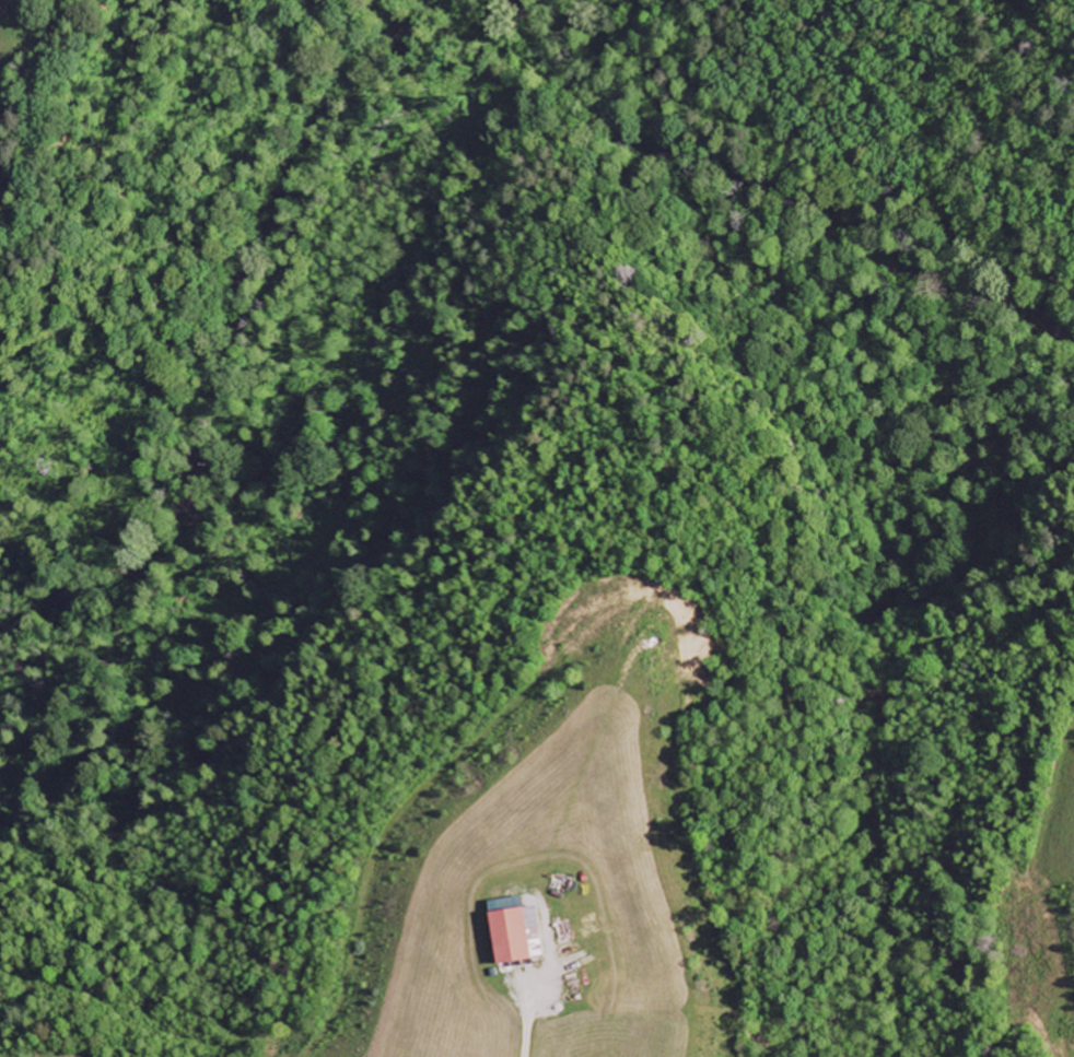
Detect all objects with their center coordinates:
building: (513, 929)

